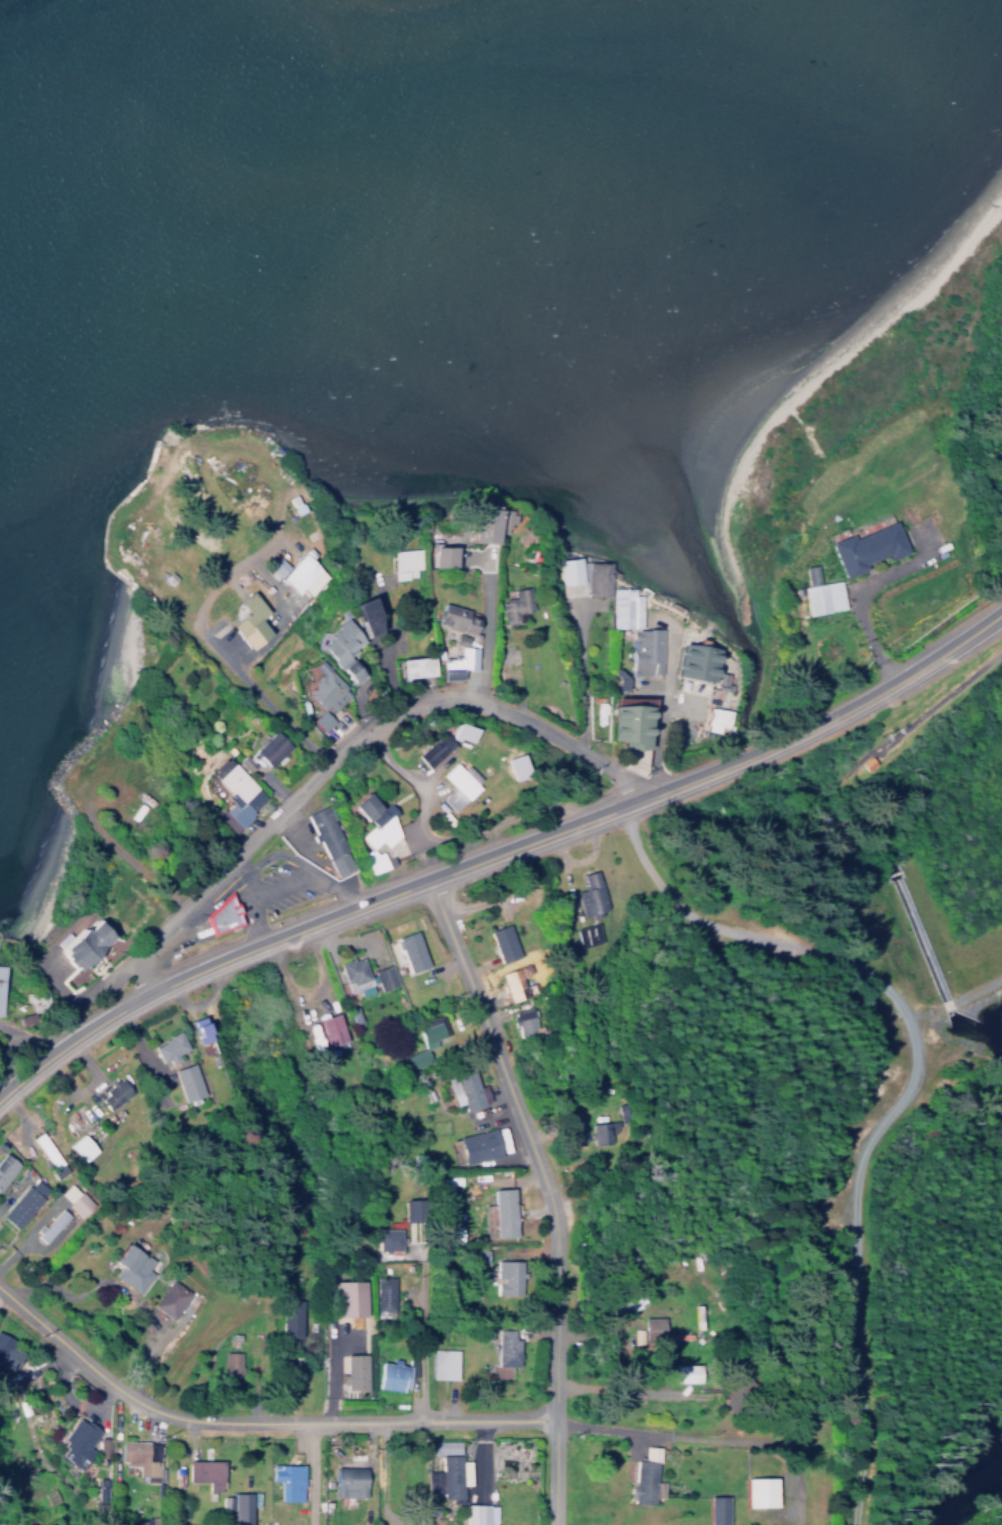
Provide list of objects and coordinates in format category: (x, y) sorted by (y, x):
building: (501, 519)
building: (475, 525)
building: (860, 548)
building: (436, 556)
building: (402, 562)
building: (584, 575)
building: (301, 576)
building: (817, 593)
building: (513, 605)
building: (622, 608)
building: (355, 616)
building: (452, 619)
building: (242, 621)
road: (489, 625)
building: (333, 649)
building: (642, 651)
building: (689, 663)
building: (453, 664)
building: (407, 667)
road: (584, 670)
road: (893, 679)
building: (720, 681)
building: (318, 695)
road: (268, 699)
road: (662, 711)
building: (715, 719)
building: (625, 726)
road: (349, 741)
building: (275, 747)
building: (426, 750)
road: (752, 754)
building: (864, 763)
building: (450, 786)
building: (237, 789)
building: (383, 820)
road: (446, 833)
building: (331, 840)
road: (288, 880)
building: (588, 895)
road: (220, 899)
road: (349, 906)
building: (224, 915)
building: (588, 937)
building: (504, 942)
building: (90, 943)
building: (411, 951)
building: (365, 975)
building: (518, 982)
building: (1, 987)
building: (525, 1020)
building: (333, 1029)
building: (203, 1032)
building: (425, 1042)
building: (170, 1047)
building: (189, 1082)
building: (467, 1089)
road: (907, 1089)
building: (113, 1093)
building: (603, 1133)
building: (476, 1146)
building: (43, 1147)
building: (83, 1147)
building: (6, 1168)
road: (549, 1189)
building: (74, 1199)
building: (23, 1203)
building: (502, 1214)
building: (390, 1238)
building: (135, 1267)
building: (509, 1277)
road: (121, 1284)
building: (385, 1295)
building: (172, 1298)
building: (352, 1298)
building: (291, 1318)
building: (656, 1328)
road: (413, 1335)
building: (508, 1348)
building: (9, 1352)
building: (232, 1364)
building: (444, 1364)
building: (690, 1368)
building: (394, 1375)
road: (256, 1418)
road: (640, 1425)
building: (78, 1437)
road: (781, 1446)
building: (447, 1447)
building: (141, 1453)
building: (205, 1468)
road: (384, 1474)
building: (446, 1474)
building: (288, 1477)
building: (349, 1477)
building: (644, 1477)
building: (759, 1488)
building: (238, 1504)
building: (717, 1506)
building: (477, 1511)

